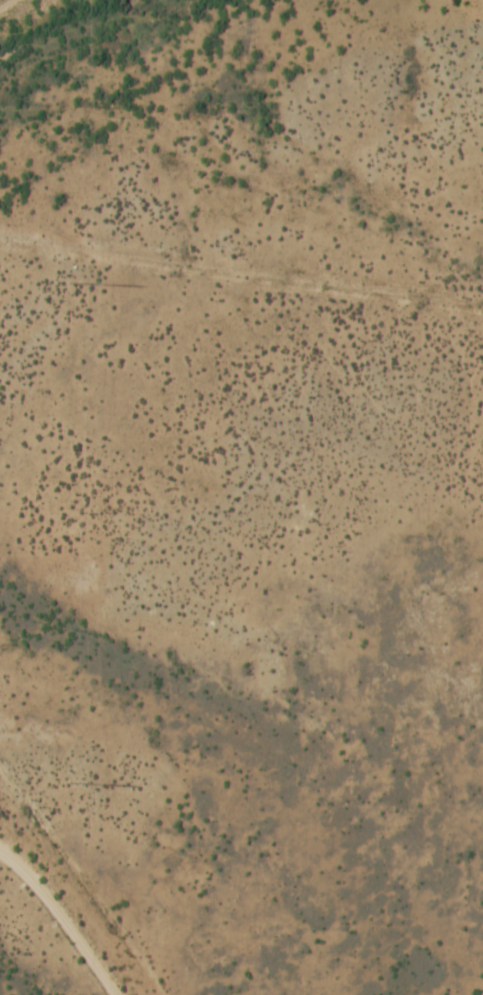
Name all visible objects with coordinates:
road: (5, 3)
power tower: (74, 285)
power tower: (72, 785)
road: (60, 921)

